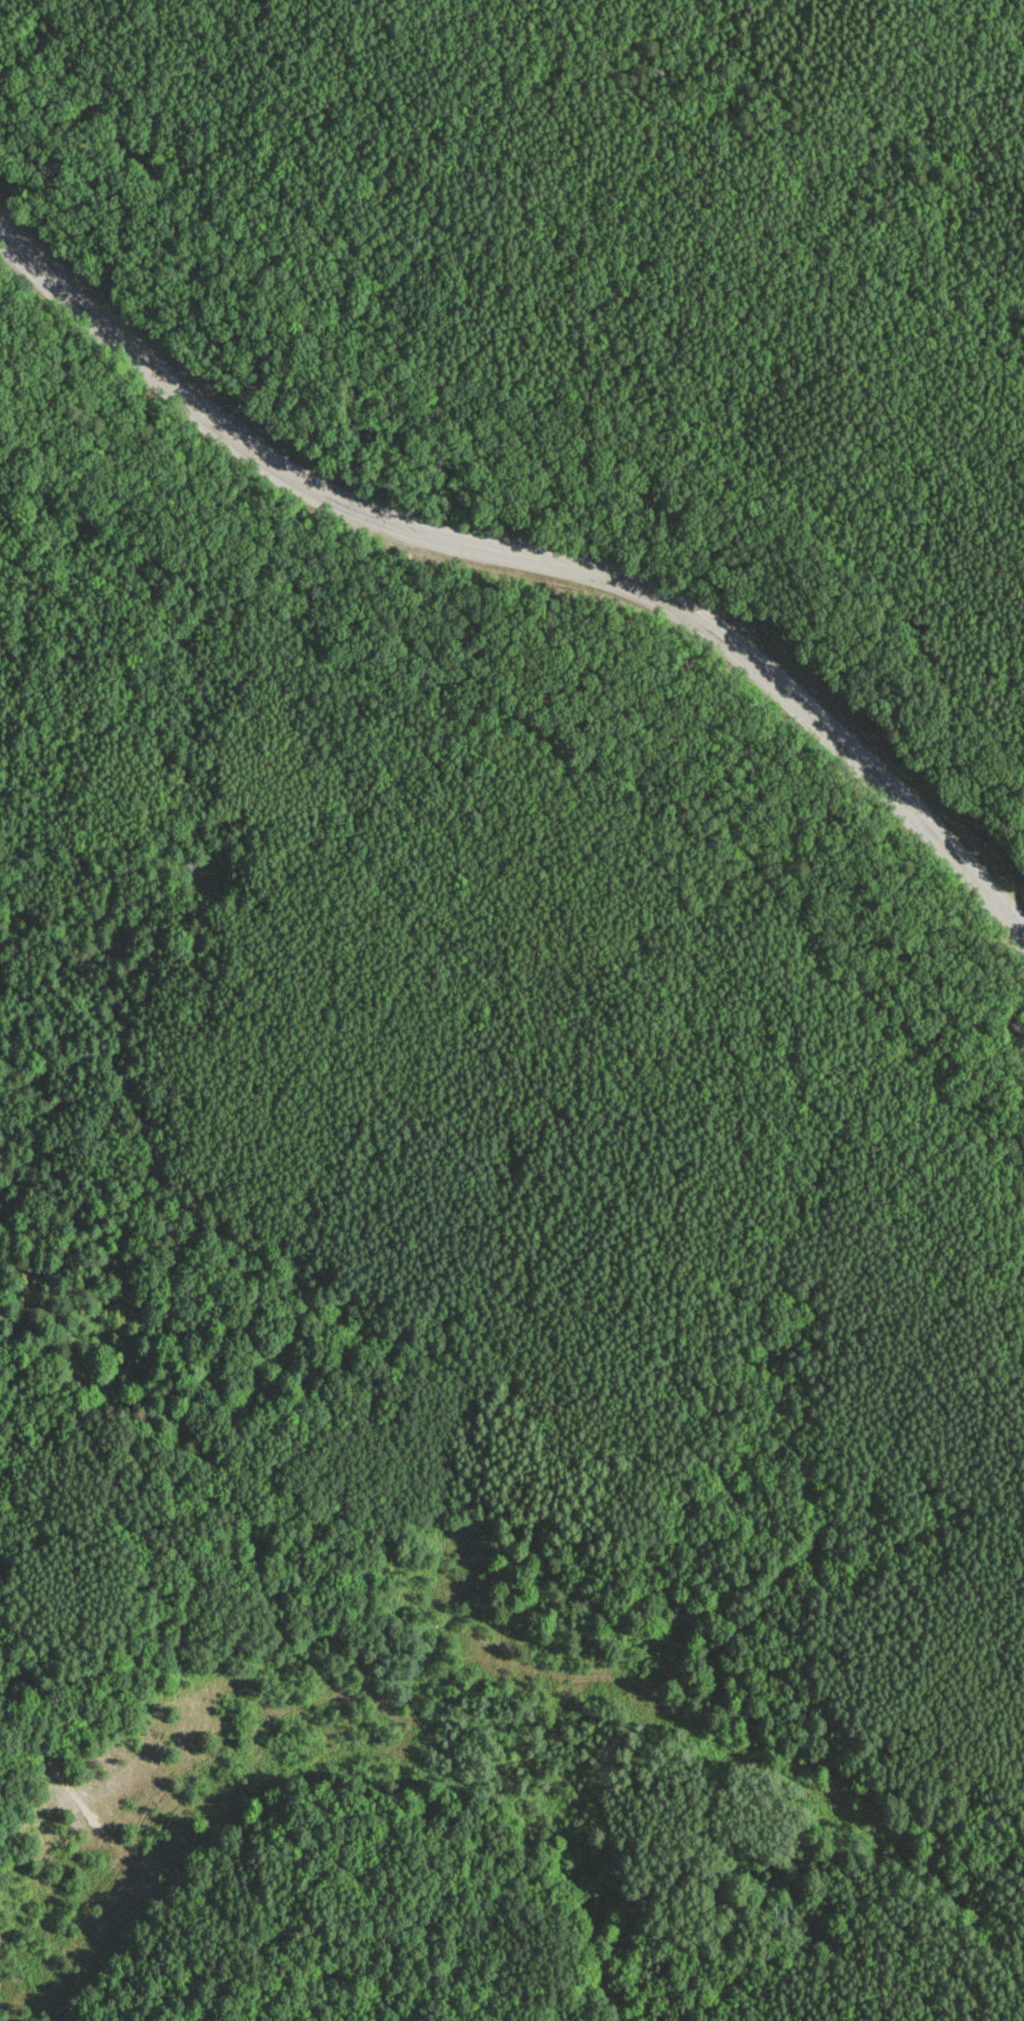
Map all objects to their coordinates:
road: (532, 557)
road: (90, 1813)

